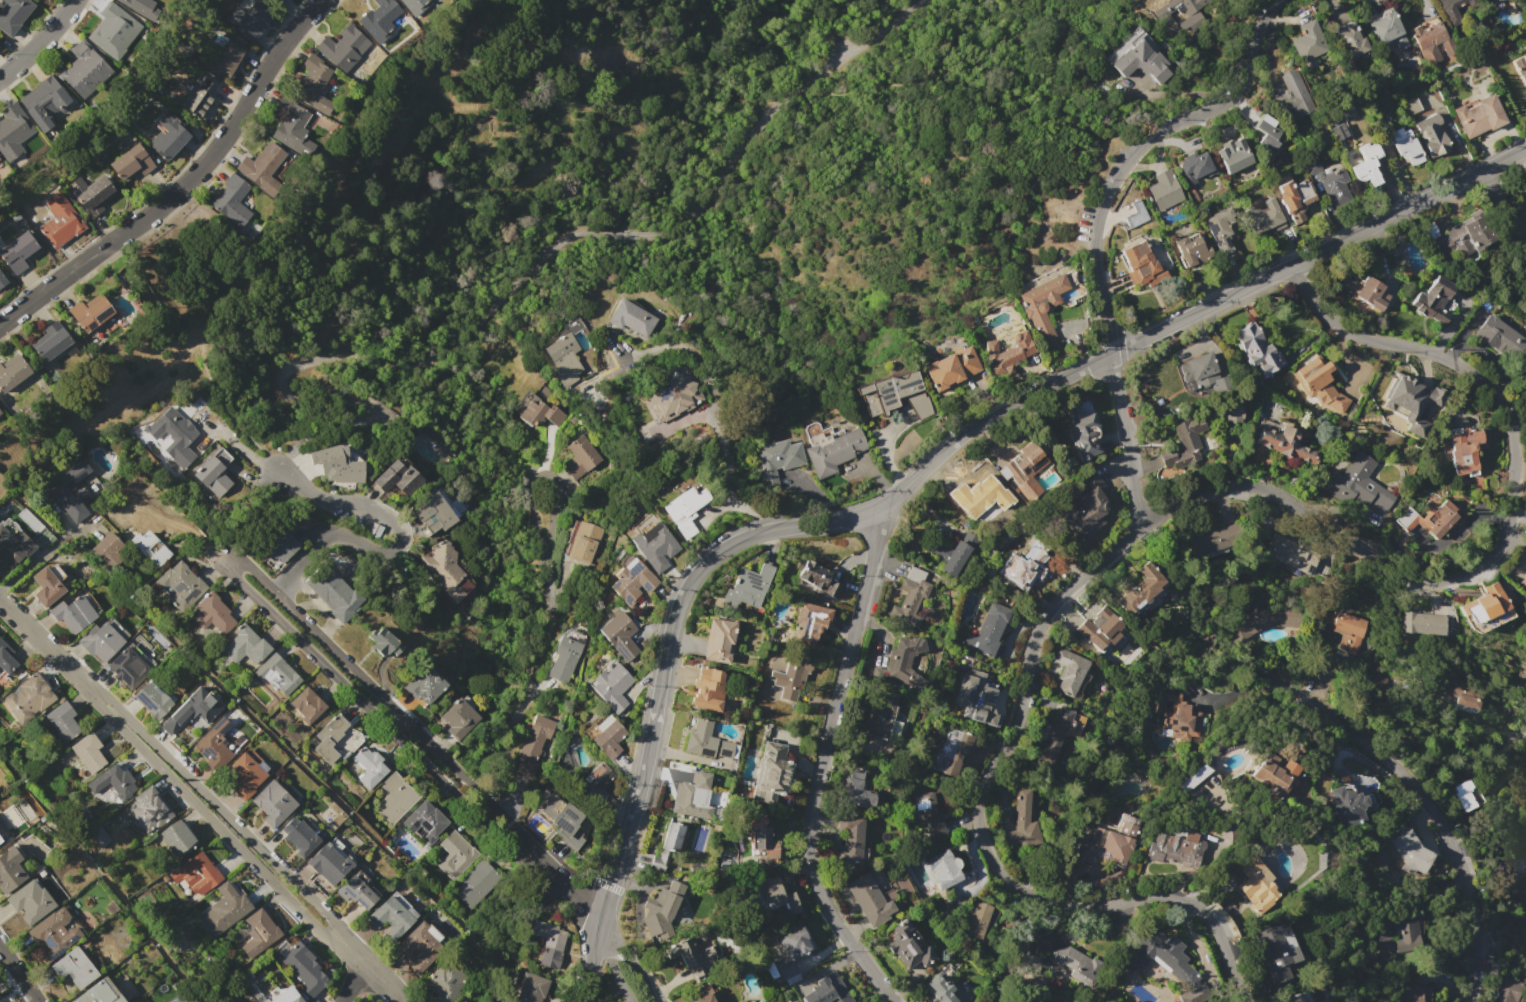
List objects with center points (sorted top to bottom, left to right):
building: (128, 3)
building: (413, 5)
building: (1455, 9)
building: (13, 14)
building: (379, 19)
building: (248, 21)
building: (113, 31)
building: (1386, 33)
road: (39, 39)
building: (1350, 40)
building: (1434, 42)
building: (1307, 45)
building: (343, 48)
building: (1138, 56)
building: (228, 60)
building: (84, 69)
building: (1521, 69)
building: (313, 84)
road: (886, 84)
building: (1294, 91)
building: (198, 100)
building: (43, 102)
building: (1411, 106)
building: (1478, 115)
building: (13, 126)
building: (293, 128)
building: (1264, 131)
building: (1336, 132)
building: (168, 136)
building: (1432, 136)
building: (1405, 145)
road: (946, 148)
building: (1231, 155)
road: (1092, 163)
building: (130, 164)
building: (1309, 164)
building: (1366, 165)
building: (270, 168)
building: (1195, 168)
road: (182, 184)
building: (1333, 186)
building: (1163, 190)
road: (710, 193)
building: (91, 194)
park: (630, 197)
building: (1293, 199)
building: (231, 200)
road: (1504, 201)
road: (394, 203)
building: (1264, 217)
building: (61, 221)
road: (1097, 224)
building: (1220, 229)
building: (1466, 237)
building: (1193, 250)
building: (19, 252)
building: (1141, 265)
building: (1405, 272)
building: (2, 279)
building: (1367, 292)
building: (1434, 300)
building: (1043, 307)
building: (90, 312)
building: (630, 317)
building: (1494, 335)
building: (53, 346)
building: (1255, 349)
building: (1007, 354)
building: (563, 356)
road: (620, 357)
building: (951, 368)
building: (1204, 372)
building: (12, 374)
road: (210, 376)
building: (1320, 384)
road: (287, 386)
building: (887, 393)
building: (671, 396)
building: (1412, 404)
building: (0, 410)
building: (537, 410)
building: (1233, 414)
road: (713, 416)
building: (366, 417)
building: (1081, 433)
building: (174, 436)
building: (1185, 443)
building: (1278, 445)
road: (238, 446)
building: (1465, 450)
building: (833, 451)
building: (579, 457)
building: (777, 462)
building: (338, 464)
building: (1025, 470)
building: (213, 474)
road: (914, 475)
building: (398, 477)
building: (1361, 481)
building: (56, 492)
building: (977, 492)
road: (1182, 502)
building: (1091, 504)
building: (685, 510)
building: (433, 513)
building: (1434, 520)
building: (41, 538)
building: (1215, 540)
building: (273, 542)
building: (583, 542)
building: (13, 543)
building: (655, 545)
building: (150, 548)
road: (394, 548)
building: (108, 550)
road: (42, 553)
building: (952, 553)
building: (1290, 554)
road: (227, 559)
building: (1021, 566)
building: (445, 570)
building: (817, 579)
building: (631, 582)
building: (1522, 582)
building: (180, 583)
building: (46, 586)
building: (749, 586)
building: (1139, 588)
building: (333, 595)
building: (910, 598)
building: (1485, 601)
building: (74, 612)
building: (213, 613)
building: (1264, 618)
building: (1096, 623)
building: (1422, 623)
building: (810, 625)
building: (1346, 630)
building: (987, 631)
road: (549, 632)
building: (619, 634)
road: (38, 638)
building: (103, 639)
building: (718, 640)
building: (383, 643)
building: (246, 646)
building: (7, 658)
building: (564, 658)
building: (906, 659)
building: (131, 665)
building: (1069, 671)
building: (277, 674)
building: (790, 677)
building: (1379, 680)
building: (424, 684)
building: (611, 686)
building: (707, 690)
building: (1461, 692)
building: (974, 696)
building: (28, 698)
building: (151, 700)
building: (307, 705)
building: (193, 709)
building: (879, 713)
building: (458, 718)
building: (62, 721)
building: (1186, 721)
building: (1054, 735)
building: (607, 736)
building: (330, 738)
building: (701, 739)
building: (214, 743)
building: (533, 745)
building: (723, 748)
road: (1498, 750)
building: (88, 753)
building: (959, 756)
road: (822, 765)
building: (369, 766)
building: (598, 774)
building: (244, 775)
building: (771, 775)
building: (1274, 775)
building: (1192, 778)
building: (113, 781)
building: (856, 790)
building: (692, 796)
building: (1465, 796)
building: (395, 798)
building: (273, 802)
building: (1345, 805)
road: (1431, 808)
building: (149, 809)
road: (225, 813)
building: (561, 814)
building: (929, 815)
building: (1023, 820)
building: (426, 823)
road: (215, 824)
building: (2, 832)
building: (299, 835)
building: (99, 836)
building: (759, 837)
building: (852, 837)
building: (177, 838)
building: (1109, 843)
building: (668, 844)
building: (1175, 849)
building: (1410, 852)
building: (455, 855)
building: (329, 863)
building: (943, 868)
building: (11, 869)
building: (197, 873)
building: (477, 883)
building: (1255, 884)
building: (355, 892)
building: (772, 896)
building: (668, 900)
building: (869, 900)
building: (30, 901)
building: (1522, 905)
building: (225, 909)
building: (391, 915)
building: (978, 921)
building: (259, 933)
building: (52, 934)
building: (549, 934)
building: (1381, 934)
building: (1408, 935)
road: (609, 937)
building: (420, 946)
building: (907, 946)
building: (1277, 951)
building: (691, 953)
building: (793, 953)
building: (1163, 956)
building: (1075, 962)
building: (75, 967)
building: (304, 969)
road: (19, 973)
building: (445, 981)
road: (353, 982)
road: (380, 982)
building: (1411, 987)
building: (531, 988)
building: (826, 990)
building: (939, 990)
building: (1505, 990)
building: (100, 992)
building: (703, 993)
building: (1193, 994)
building: (287, 996)
building: (1294, 998)
building: (265, 1001)
building: (466, 1001)
building: (606, 1001)
building: (1307, 1001)

